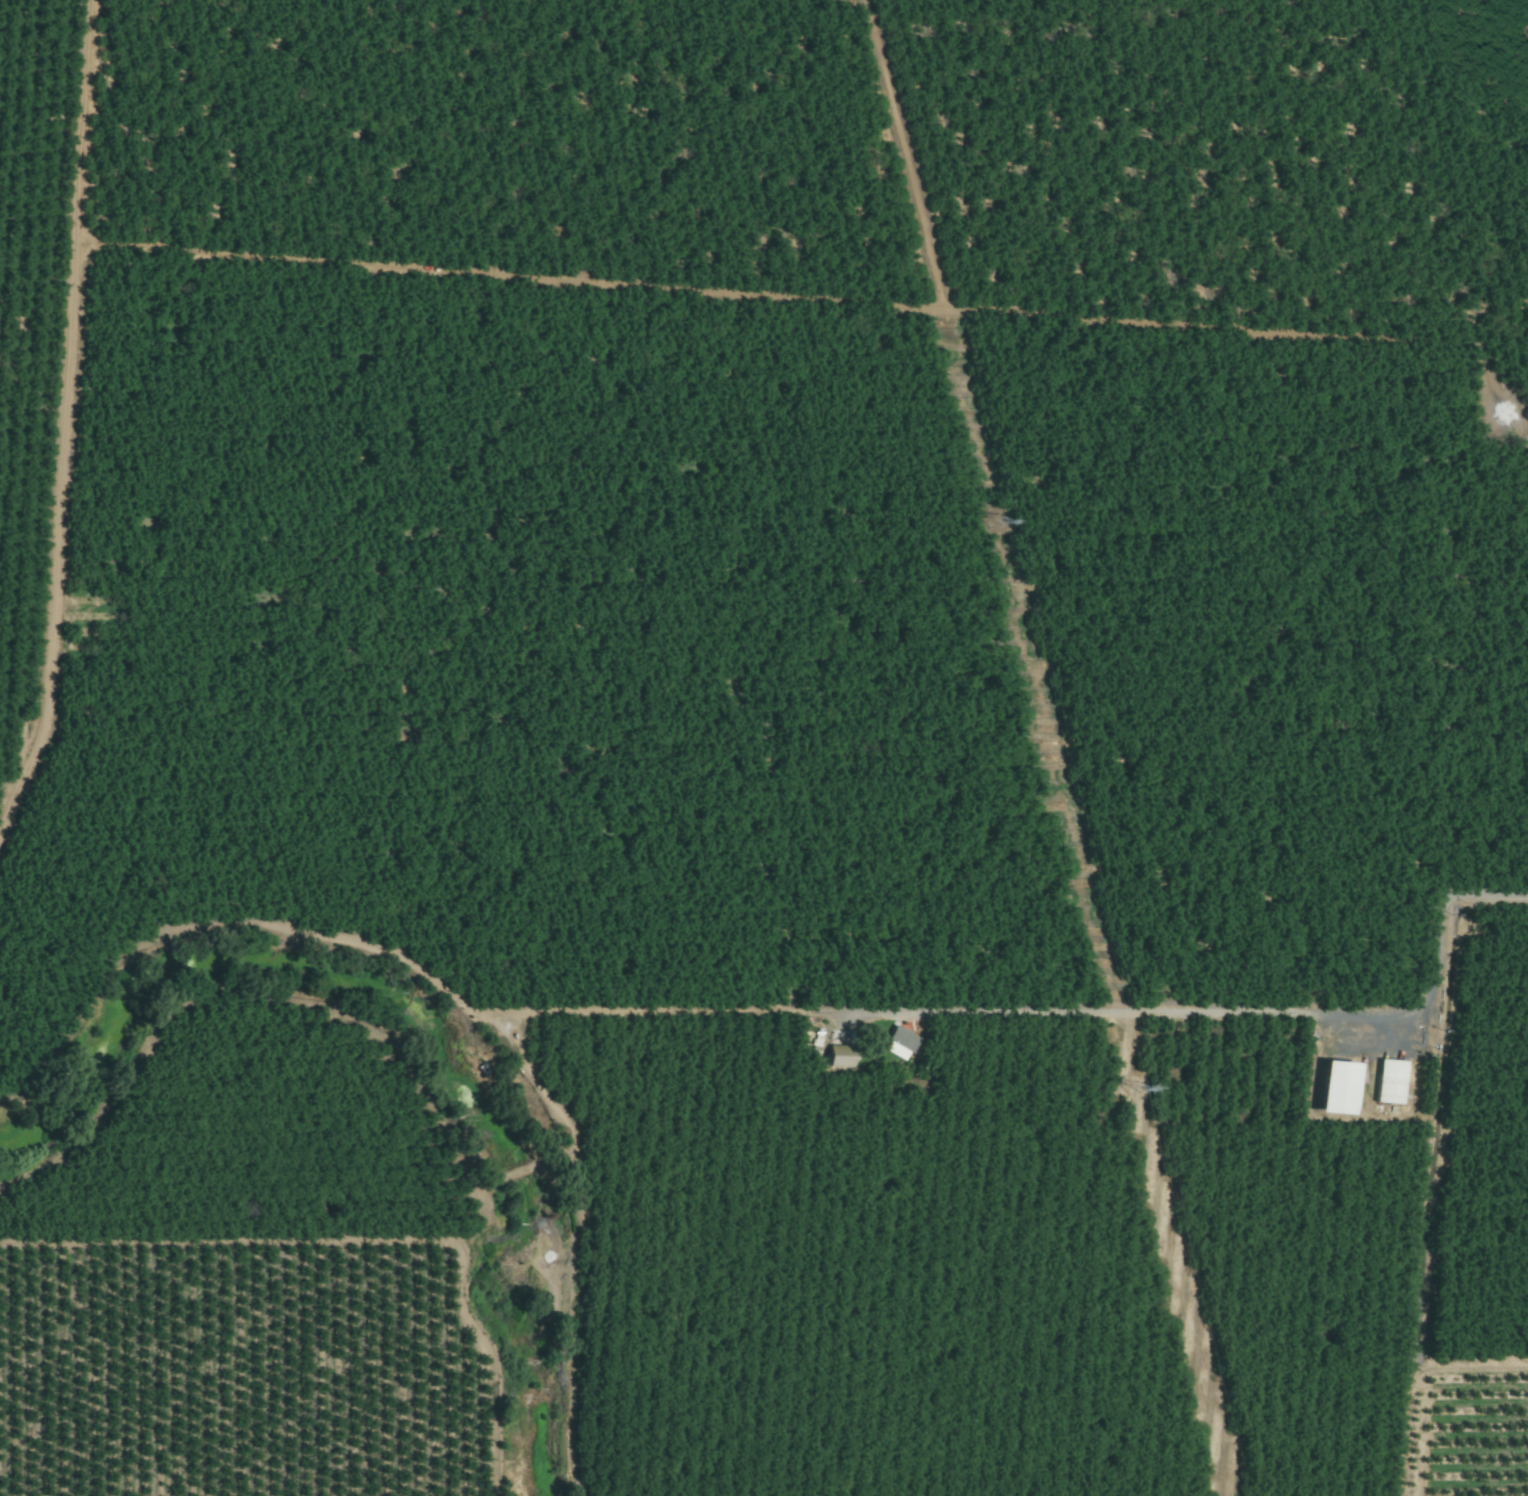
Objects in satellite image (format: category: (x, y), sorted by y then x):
power tower: (994, 522)
wastewater plant: (1385, 986)
road: (1229, 1008)
building: (909, 1043)
building: (841, 1057)
building: (1390, 1082)
building: (1336, 1089)
power tower: (1133, 1091)

